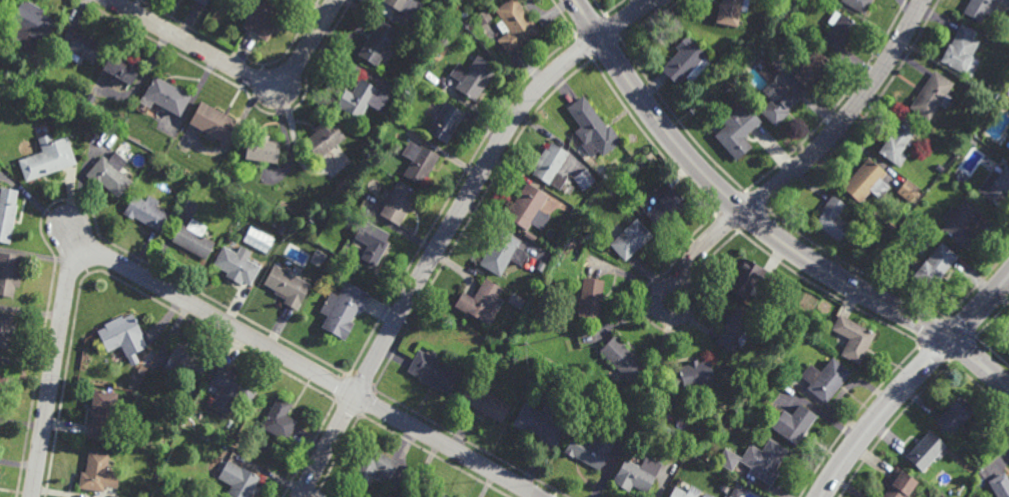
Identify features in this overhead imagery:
road: (655, 1)
building: (200, 2)
building: (798, 2)
building: (856, 5)
building: (406, 6)
building: (979, 9)
building: (732, 11)
building: (464, 13)
building: (482, 16)
road: (623, 18)
building: (259, 19)
building: (30, 22)
building: (514, 25)
building: (836, 32)
building: (377, 42)
building: (82, 45)
building: (960, 52)
building: (686, 61)
building: (122, 69)
road: (239, 69)
building: (811, 69)
building: (26, 71)
building: (473, 76)
building: (727, 89)
building: (166, 96)
building: (777, 97)
building: (931, 97)
building: (361, 99)
road: (847, 116)
building: (211, 121)
building: (444, 121)
building: (593, 129)
building: (738, 129)
building: (322, 139)
building: (897, 143)
building: (972, 143)
building: (262, 150)
building: (47, 157)
building: (626, 157)
building: (418, 162)
building: (551, 165)
building: (938, 168)
building: (110, 173)
building: (585, 179)
building: (865, 180)
building: (996, 186)
building: (907, 189)
road: (734, 201)
building: (397, 202)
building: (666, 205)
building: (528, 206)
building: (6, 211)
building: (146, 211)
building: (831, 218)
building: (960, 222)
building: (890, 225)
road: (74, 236)
building: (592, 236)
building: (193, 237)
building: (630, 237)
building: (257, 238)
building: (371, 240)
building: (556, 247)
building: (501, 251)
road: (434, 253)
building: (237, 264)
building: (934, 265)
building: (9, 272)
building: (331, 274)
building: (748, 277)
road: (678, 283)
building: (286, 284)
building: (590, 296)
building: (479, 301)
road: (199, 307)
building: (342, 308)
road: (981, 309)
building: (814, 314)
building: (5, 328)
building: (733, 328)
building: (122, 335)
building: (853, 337)
building: (1008, 348)
building: (515, 356)
building: (187, 357)
building: (623, 358)
road: (981, 362)
building: (154, 363)
building: (433, 371)
building: (688, 373)
building: (2, 375)
building: (824, 377)
building: (132, 384)
building: (231, 387)
building: (751, 389)
building: (486, 402)
building: (100, 413)
road: (879, 413)
building: (953, 414)
building: (279, 418)
building: (542, 420)
building: (191, 421)
building: (792, 422)
building: (590, 448)
building: (925, 450)
building: (755, 459)
building: (373, 465)
building: (96, 471)
building: (636, 473)
building: (194, 479)
building: (237, 479)
building: (898, 484)
building: (1000, 485)
building: (681, 491)
building: (431, 493)
building: (147, 495)
building: (704, 495)

